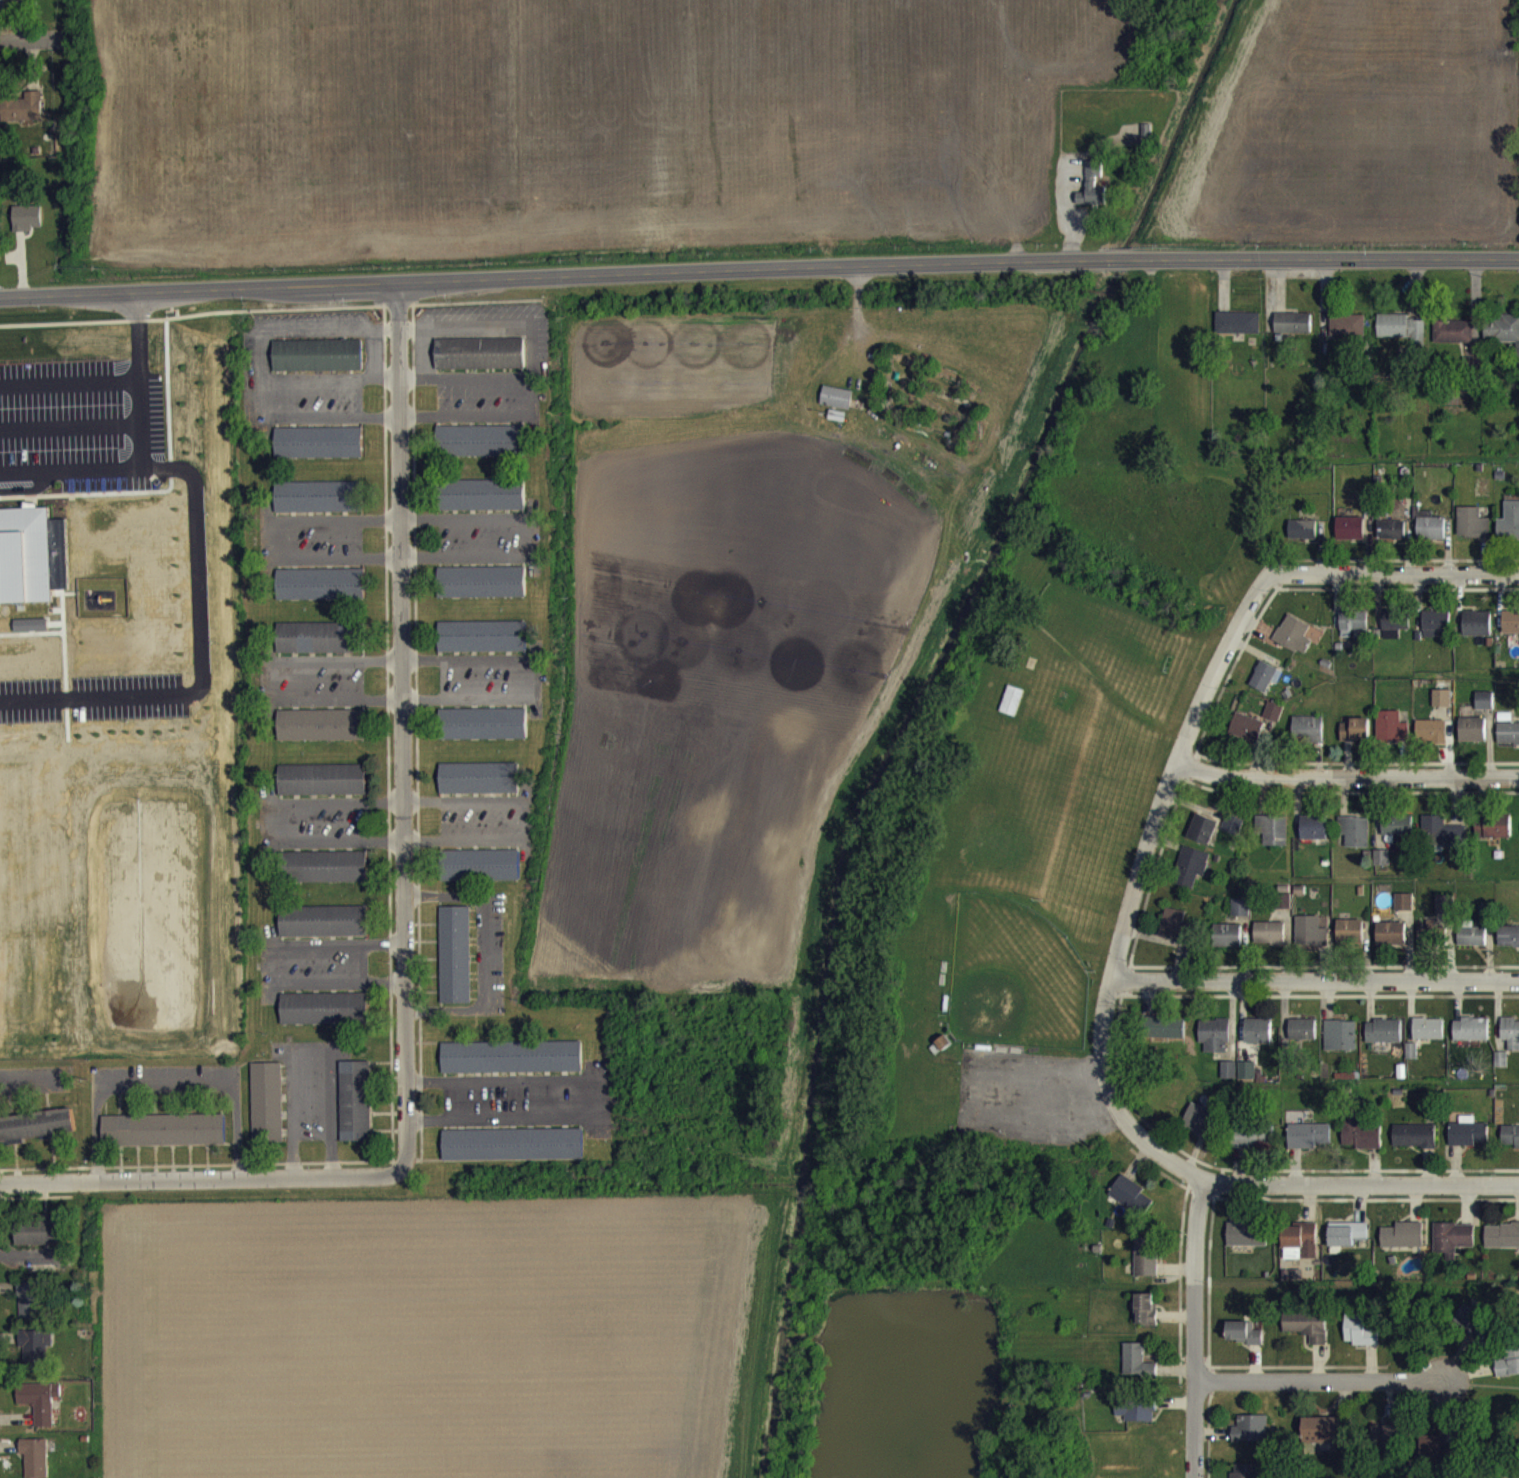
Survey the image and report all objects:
road: (19, 47)
building: (23, 117)
building: (1093, 196)
building: (28, 227)
road: (759, 269)
building: (1238, 332)
building: (1293, 333)
road: (137, 335)
building: (1347, 335)
road: (477, 338)
building: (1402, 338)
road: (410, 339)
building: (1503, 339)
road: (316, 340)
road: (385, 340)
building: (1453, 340)
road: (532, 362)
building: (480, 363)
road: (423, 364)
road: (260, 365)
building: (318, 365)
road: (373, 365)
road: (69, 381)
road: (478, 389)
road: (317, 390)
road: (385, 390)
road: (410, 390)
building: (837, 407)
road: (533, 408)
road: (261, 410)
road: (465, 428)
road: (329, 429)
building: (482, 450)
building: (319, 452)
road: (114, 466)
building: (483, 505)
building: (316, 506)
building: (1510, 531)
building: (1473, 532)
building: (1351, 538)
building: (1432, 538)
building: (1303, 539)
building: (1392, 539)
road: (534, 548)
road: (269, 549)
building: (25, 554)
road: (1390, 574)
building: (482, 592)
building: (321, 594)
building: (1436, 632)
building: (1511, 632)
building: (1354, 633)
building: (1395, 633)
building: (1478, 633)
building: (32, 635)
building: (1295, 644)
building: (483, 646)
building: (318, 647)
road: (535, 677)
road: (267, 678)
building: (1266, 686)
building: (1442, 708)
building: (1485, 710)
building: (1274, 721)
road: (398, 728)
building: (484, 733)
building: (322, 734)
building: (1392, 736)
building: (1247, 737)
building: (1308, 739)
building: (1356, 739)
building: (1473, 739)
building: (1432, 741)
building: (1508, 743)
road: (1350, 771)
building: (480, 788)
building: (323, 789)
road: (527, 820)
road: (270, 821)
building: (1233, 834)
building: (1397, 835)
building: (1493, 836)
building: (1314, 837)
building: (1204, 839)
building: (1273, 839)
building: (1355, 841)
building: (1442, 842)
building: (1382, 867)
building: (481, 875)
building: (327, 876)
building: (1191, 876)
road: (1144, 892)
building: (1404, 912)
building: (1445, 914)
building: (1241, 917)
building: (1485, 923)
building: (324, 931)
building: (1174, 935)
building: (1310, 941)
building: (1350, 941)
building: (1269, 942)
building: (1428, 942)
building: (1392, 943)
building: (1230, 945)
building: (1472, 946)
building: (1508, 946)
building: (456, 951)
road: (484, 951)
road: (269, 964)
road: (1318, 977)
building: (326, 1018)
building: (1166, 1037)
building: (1428, 1038)
building: (1302, 1039)
building: (1471, 1039)
building: (1258, 1041)
building: (1384, 1041)
building: (1510, 1043)
building: (1215, 1045)
building: (1340, 1045)
road: (310, 1047)
building: (513, 1067)
building: (1500, 1069)
building: (1228, 1079)
building: (1247, 1080)
road: (163, 1084)
road: (23, 1085)
road: (592, 1096)
building: (356, 1111)
building: (268, 1112)
building: (37, 1123)
building: (164, 1127)
building: (1200, 1130)
building: (513, 1142)
building: (1468, 1142)
building: (1361, 1144)
building: (1308, 1145)
building: (1414, 1145)
building: (1510, 1146)
building: (1253, 1148)
road: (199, 1178)
road: (1362, 1184)
building: (1131, 1205)
building: (42, 1243)
building: (1348, 1244)
building: (1247, 1245)
building: (1300, 1245)
building: (1403, 1245)
building: (1501, 1245)
building: (1452, 1248)
building: (1146, 1266)
building: (31, 1310)
building: (1146, 1319)
road: (1200, 1330)
building: (1472, 1330)
building: (1307, 1335)
building: (1359, 1341)
building: (1244, 1343)
building: (35, 1358)
building: (1137, 1371)
building: (1507, 1374)
road: (1324, 1379)
building: (40, 1411)
building: (1136, 1420)
building: (1251, 1438)
building: (1324, 1442)
building: (1387, 1444)
building: (1436, 1461)
building: (35, 1462)
building: (1248, 1475)

